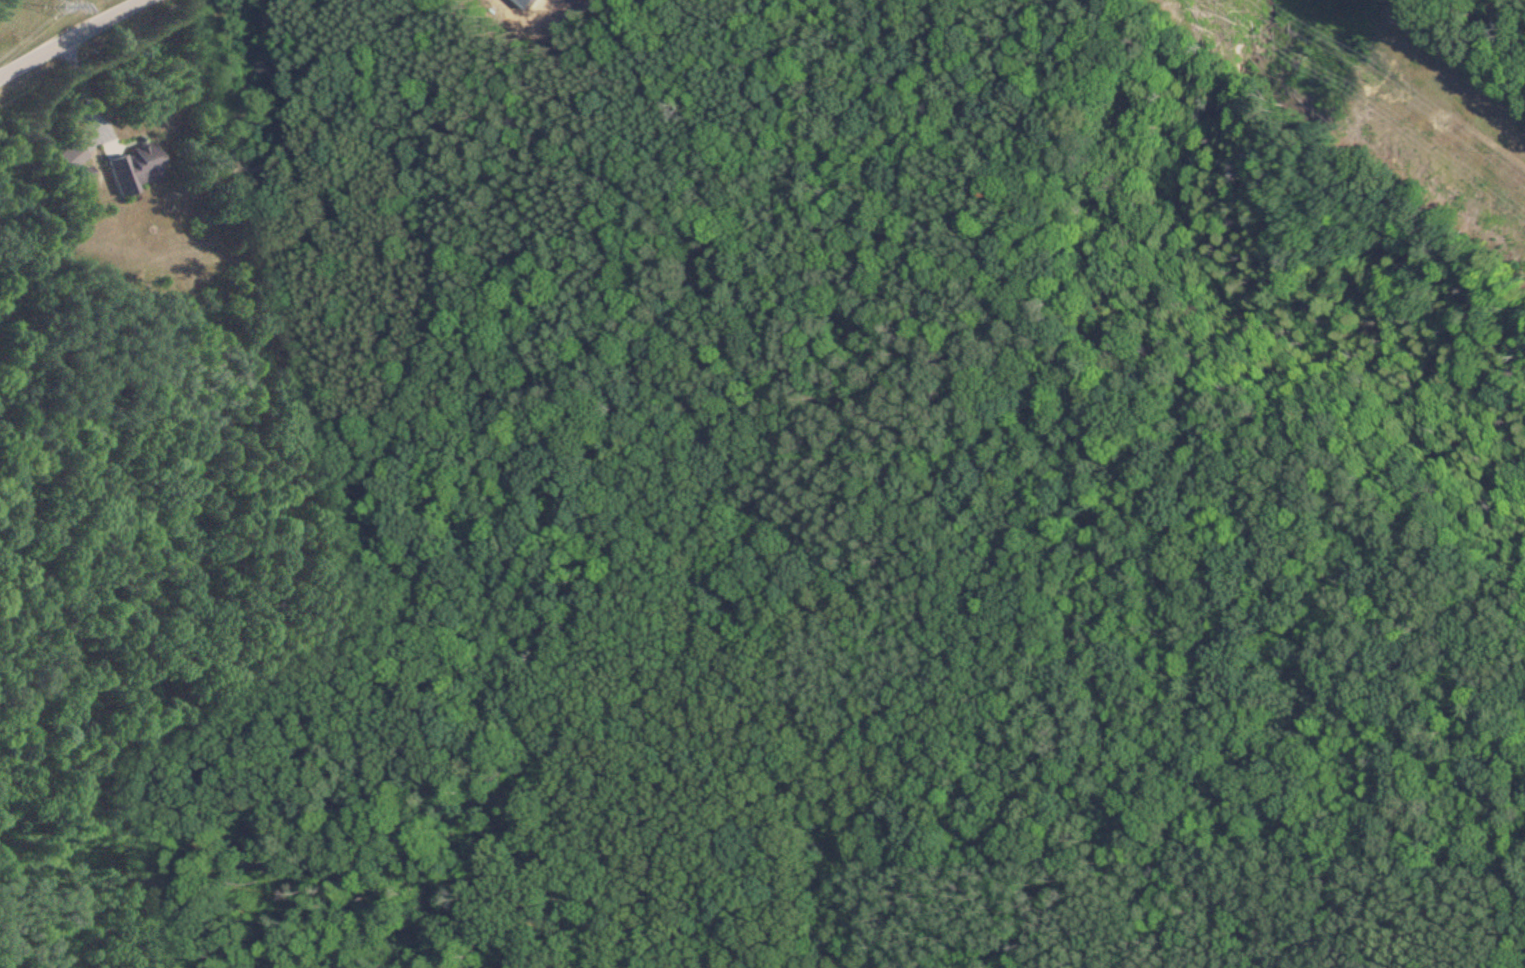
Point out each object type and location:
power tower: (52, 6)
road: (65, 34)
power tower: (1376, 67)
road: (79, 86)
building: (131, 169)

